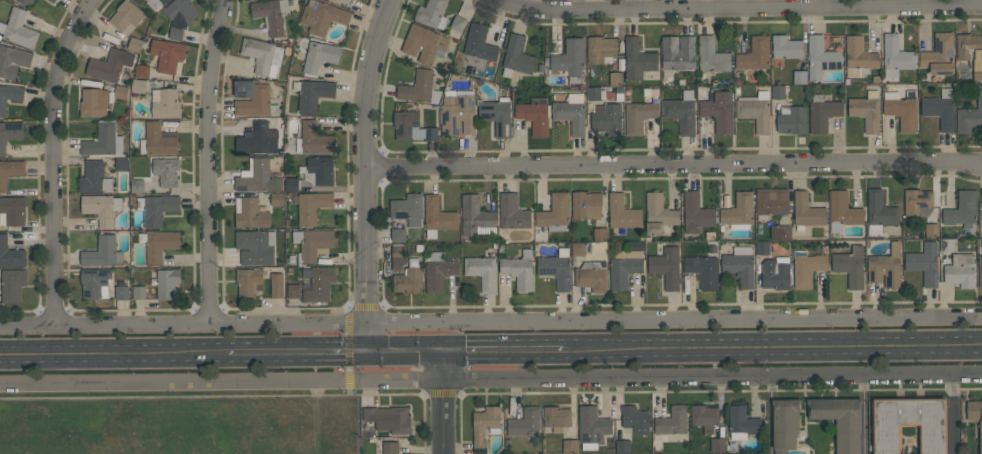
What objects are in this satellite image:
building: (52, 1)
building: (137, 1)
building: (346, 1)
building: (28, 2)
building: (155, 3)
road: (745, 6)
building: (432, 13)
building: (271, 14)
building: (180, 16)
building: (323, 16)
building: (126, 17)
building: (457, 25)
building: (19, 29)
building: (425, 43)
building: (479, 43)
building: (135, 44)
building: (786, 47)
building: (601, 50)
building: (678, 52)
building: (971, 52)
building: (167, 54)
building: (755, 54)
building: (939, 54)
building: (262, 55)
building: (320, 56)
building: (516, 56)
building: (712, 56)
building: (896, 56)
building: (859, 57)
building: (821, 58)
building: (570, 59)
building: (637, 59)
building: (13, 60)
building: (109, 65)
building: (142, 71)
building: (800, 77)
building: (616, 78)
building: (138, 86)
building: (419, 87)
building: (778, 91)
building: (121, 92)
building: (593, 93)
building: (312, 94)
building: (9, 95)
building: (253, 98)
building: (95, 102)
building: (165, 103)
building: (902, 109)
building: (940, 109)
building: (719, 110)
building: (755, 111)
building: (866, 111)
building: (681, 112)
building: (571, 113)
building: (458, 114)
building: (823, 114)
building: (970, 114)
building: (497, 115)
building: (638, 116)
building: (534, 117)
building: (608, 119)
building: (791, 119)
building: (407, 125)
building: (431, 133)
building: (9, 134)
building: (315, 138)
building: (258, 139)
building: (103, 140)
building: (158, 140)
road: (56, 157)
road: (208, 160)
road: (675, 164)
building: (318, 170)
building: (10, 171)
building: (167, 171)
road: (368, 175)
building: (257, 177)
building: (94, 178)
building: (291, 184)
building: (137, 186)
building: (981, 192)
building: (277, 199)
building: (772, 201)
building: (918, 202)
building: (586, 205)
building: (312, 206)
building: (101, 208)
building: (156, 208)
building: (408, 208)
building: (962, 209)
building: (12, 210)
building: (739, 211)
building: (807, 211)
building: (843, 211)
building: (879, 211)
building: (513, 212)
building: (623, 212)
building: (250, 213)
building: (555, 213)
building: (696, 213)
building: (658, 214)
building: (438, 216)
building: (476, 217)
building: (931, 230)
building: (780, 233)
building: (600, 234)
building: (398, 235)
building: (313, 243)
building: (158, 245)
building: (947, 245)
building: (255, 247)
building: (762, 247)
building: (581, 249)
building: (103, 253)
building: (10, 254)
building: (398, 256)
building: (924, 263)
building: (740, 265)
building: (850, 265)
building: (666, 267)
building: (886, 267)
building: (624, 268)
building: (806, 268)
building: (556, 269)
building: (519, 270)
building: (703, 270)
building: (960, 270)
building: (439, 271)
building: (482, 271)
building: (979, 271)
building: (776, 273)
building: (592, 276)
building: (408, 278)
building: (249, 281)
building: (95, 283)
building: (167, 283)
building: (319, 283)
building: (12, 284)
building: (277, 285)
building: (293, 291)
building: (139, 292)
building: (122, 293)
road: (490, 318)
road: (774, 350)
road: (505, 353)
road: (408, 354)
traffic signals: (445, 354)
traffic signals: (372, 355)
road: (298, 356)
road: (112, 357)
road: (491, 382)
road: (770, 395)
road: (446, 403)
building: (975, 415)
road: (865, 416)
road: (952, 416)
building: (705, 417)
building: (557, 418)
building: (389, 419)
building: (635, 419)
building: (840, 420)
building: (673, 421)
building: (526, 423)
building: (743, 423)
building: (785, 424)
building: (909, 424)
building: (485, 427)
building: (592, 427)
road: (770, 432)
building: (717, 444)
building: (570, 446)
building: (391, 447)
building: (623, 447)

